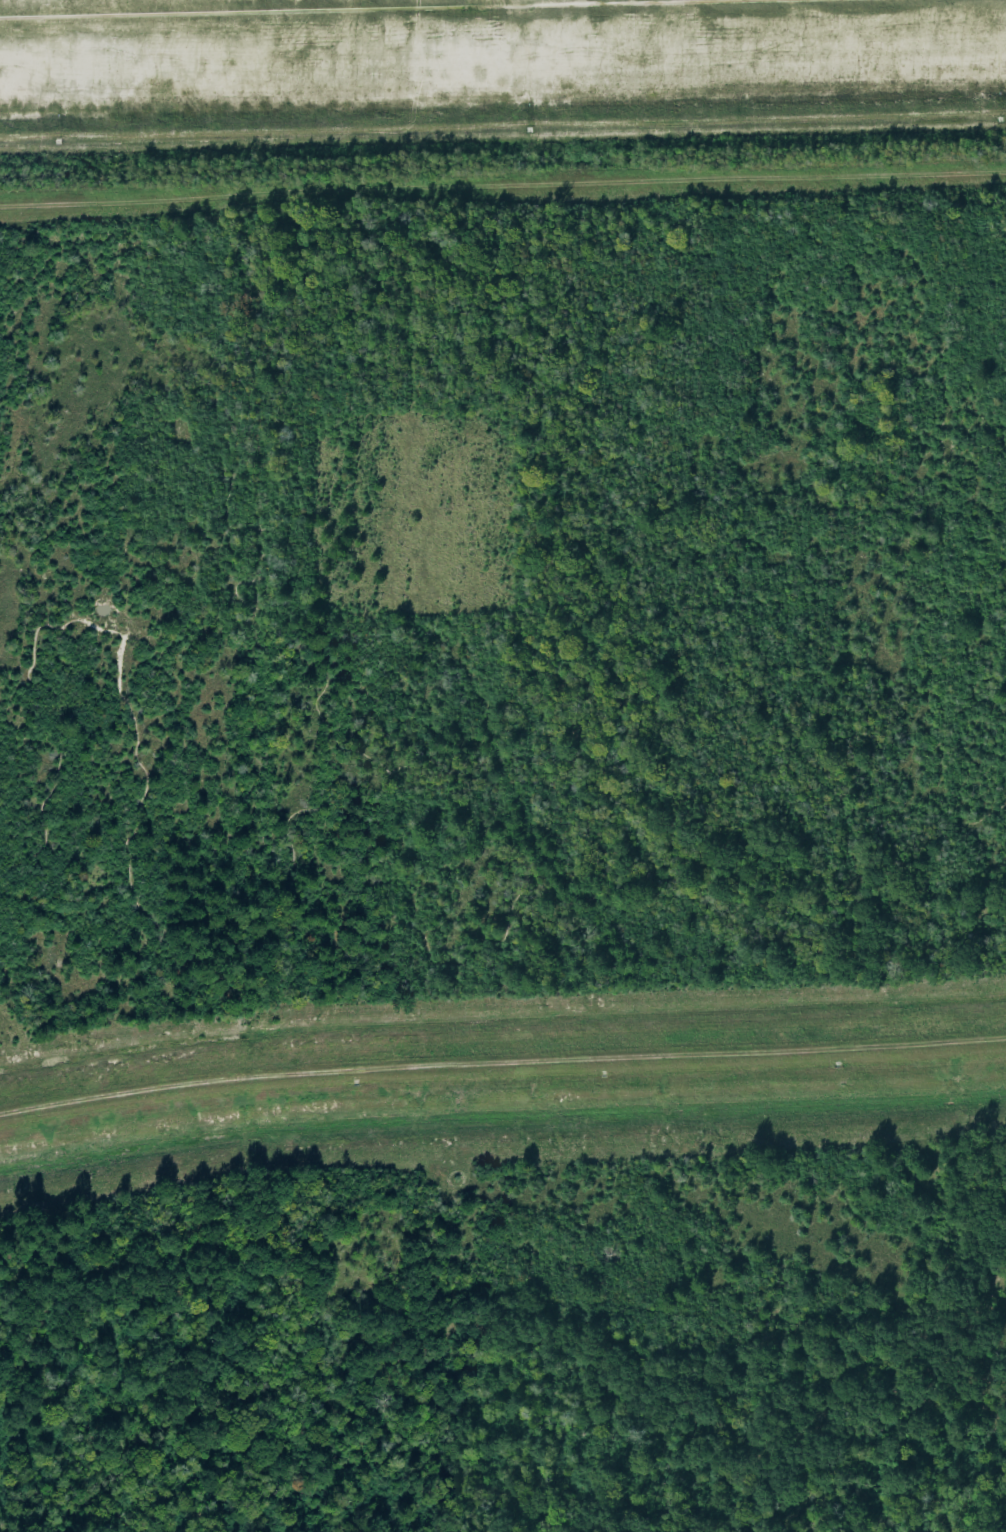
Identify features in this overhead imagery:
road: (503, 121)

